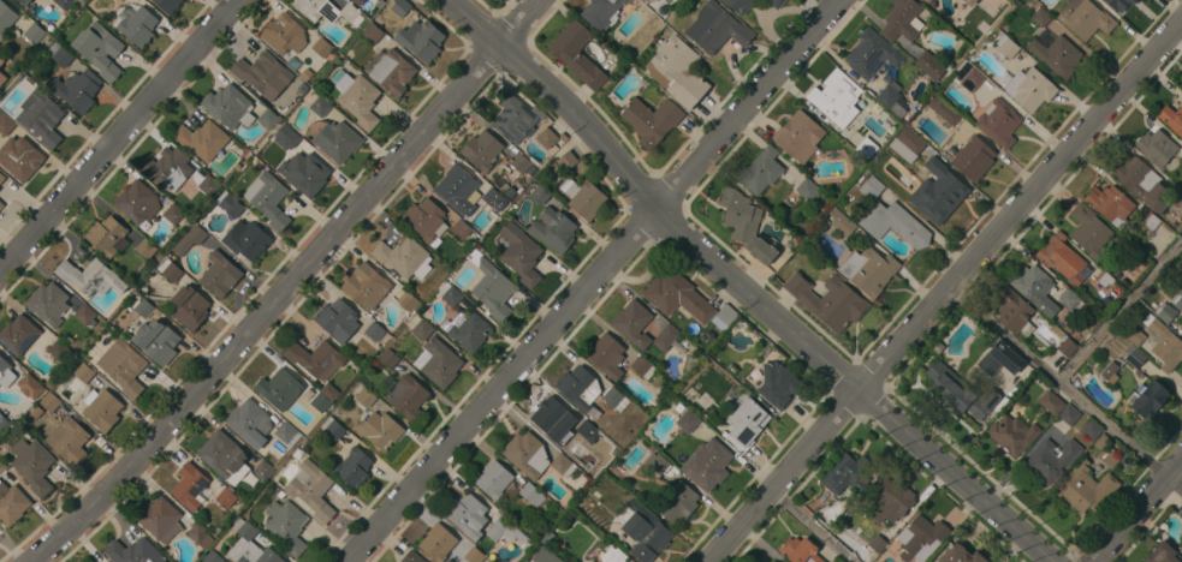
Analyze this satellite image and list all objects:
building: (121, 0)
building: (649, 0)
building: (652, 0)
building: (926, 0)
building: (356, 1)
building: (23, 2)
building: (776, 2)
building: (969, 2)
building: (64, 4)
building: (1116, 4)
building: (167, 5)
building: (740, 5)
building: (400, 7)
building: (327, 11)
building: (601, 12)
building: (1041, 17)
building: (5, 18)
building: (1085, 18)
building: (902, 19)
road: (521, 23)
building: (138, 26)
building: (720, 29)
building: (34, 32)
building: (373, 32)
building: (284, 34)
building: (421, 40)
building: (1005, 44)
building: (321, 47)
building: (99, 49)
building: (59, 54)
building: (577, 54)
building: (872, 54)
building: (1057, 55)
building: (1, 60)
building: (929, 65)
building: (677, 71)
building: (393, 72)
building: (261, 73)
building: (969, 76)
building: (1, 77)
building: (1181, 86)
building: (76, 89)
building: (1029, 89)
building: (836, 96)
building: (358, 98)
building: (891, 100)
building: (228, 106)
building: (320, 106)
building: (944, 108)
building: (38, 118)
building: (267, 118)
building: (516, 118)
building: (1171, 118)
building: (652, 120)
building: (5, 122)
building: (998, 122)
building: (287, 136)
building: (798, 136)
road: (119, 137)
building: (201, 139)
building: (337, 140)
building: (547, 140)
building: (907, 144)
building: (1156, 147)
building: (867, 149)
building: (481, 150)
building: (22, 159)
building: (973, 159)
building: (566, 161)
building: (518, 165)
building: (168, 168)
building: (760, 171)
building: (304, 173)
building: (1, 178)
building: (1141, 183)
building: (208, 185)
building: (872, 187)
building: (807, 189)
building: (457, 190)
building: (943, 190)
building: (540, 193)
building: (1177, 196)
building: (583, 197)
building: (268, 198)
building: (494, 198)
building: (137, 202)
building: (230, 204)
building: (1110, 204)
building: (1, 205)
building: (172, 213)
building: (426, 221)
building: (1150, 221)
building: (842, 222)
building: (895, 223)
building: (744, 225)
building: (461, 229)
building: (553, 229)
building: (1089, 231)
building: (107, 235)
building: (190, 239)
building: (245, 239)
building: (147, 249)
building: (519, 253)
building: (404, 257)
building: (1062, 258)
building: (868, 269)
building: (170, 270)
building: (219, 274)
building: (90, 276)
road: (596, 281)
building: (366, 286)
building: (492, 287)
building: (1035, 288)
road: (746, 289)
road: (945, 292)
building: (453, 295)
building: (677, 295)
building: (406, 300)
building: (828, 300)
building: (1070, 300)
building: (48, 301)
building: (1178, 303)
building: (143, 307)
building: (189, 307)
road: (271, 309)
road: (1119, 309)
building: (1014, 311)
building: (1165, 312)
building: (84, 313)
building: (726, 315)
building: (337, 319)
building: (632, 323)
building: (1181, 323)
building: (421, 328)
building: (467, 330)
building: (374, 331)
building: (18, 334)
building: (666, 336)
building: (1135, 336)
building: (156, 341)
building: (1064, 341)
building: (1164, 345)
building: (58, 349)
building: (606, 355)
building: (1134, 355)
building: (315, 358)
building: (388, 359)
building: (1000, 359)
building: (440, 363)
building: (123, 366)
building: (642, 367)
building: (1110, 371)
building: (5, 372)
building: (84, 372)
building: (26, 383)
building: (777, 384)
road: (1065, 387)
building: (279, 389)
building: (580, 389)
building: (328, 391)
building: (961, 391)
building: (406, 396)
building: (364, 397)
building: (1147, 397)
building: (614, 399)
building: (49, 401)
building: (320, 402)
building: (1051, 402)
building: (101, 408)
building: (1068, 414)
building: (552, 418)
building: (2, 421)
building: (688, 421)
building: (249, 423)
building: (746, 424)
building: (332, 428)
building: (380, 430)
building: (1092, 430)
building: (587, 431)
building: (286, 434)
building: (1012, 434)
building: (69, 441)
building: (1106, 452)
building: (527, 454)
building: (222, 455)
building: (1051, 459)
building: (657, 462)
building: (707, 464)
building: (32, 465)
building: (563, 465)
building: (2, 466)
building: (354, 467)
building: (262, 471)
building: (845, 473)
building: (493, 479)
building: (191, 488)
building: (311, 489)
building: (1085, 489)
building: (531, 494)
building: (225, 497)
building: (890, 500)
building: (678, 502)
building: (12, 503)
road: (1138, 512)
building: (467, 515)
building: (160, 519)
building: (286, 526)
building: (505, 527)
road: (810, 527)
building: (645, 531)
building: (200, 534)
building: (920, 539)
building: (438, 542)
building: (877, 543)
building: (250, 546)
building: (546, 550)
building: (800, 550)
building: (132, 551)
building: (1162, 554)
building: (474, 555)
building: (613, 555)
building: (960, 555)
building: (213, 557)
building: (411, 557)
building: (630, 561)
building: (768, 561)
building: (773, 561)

